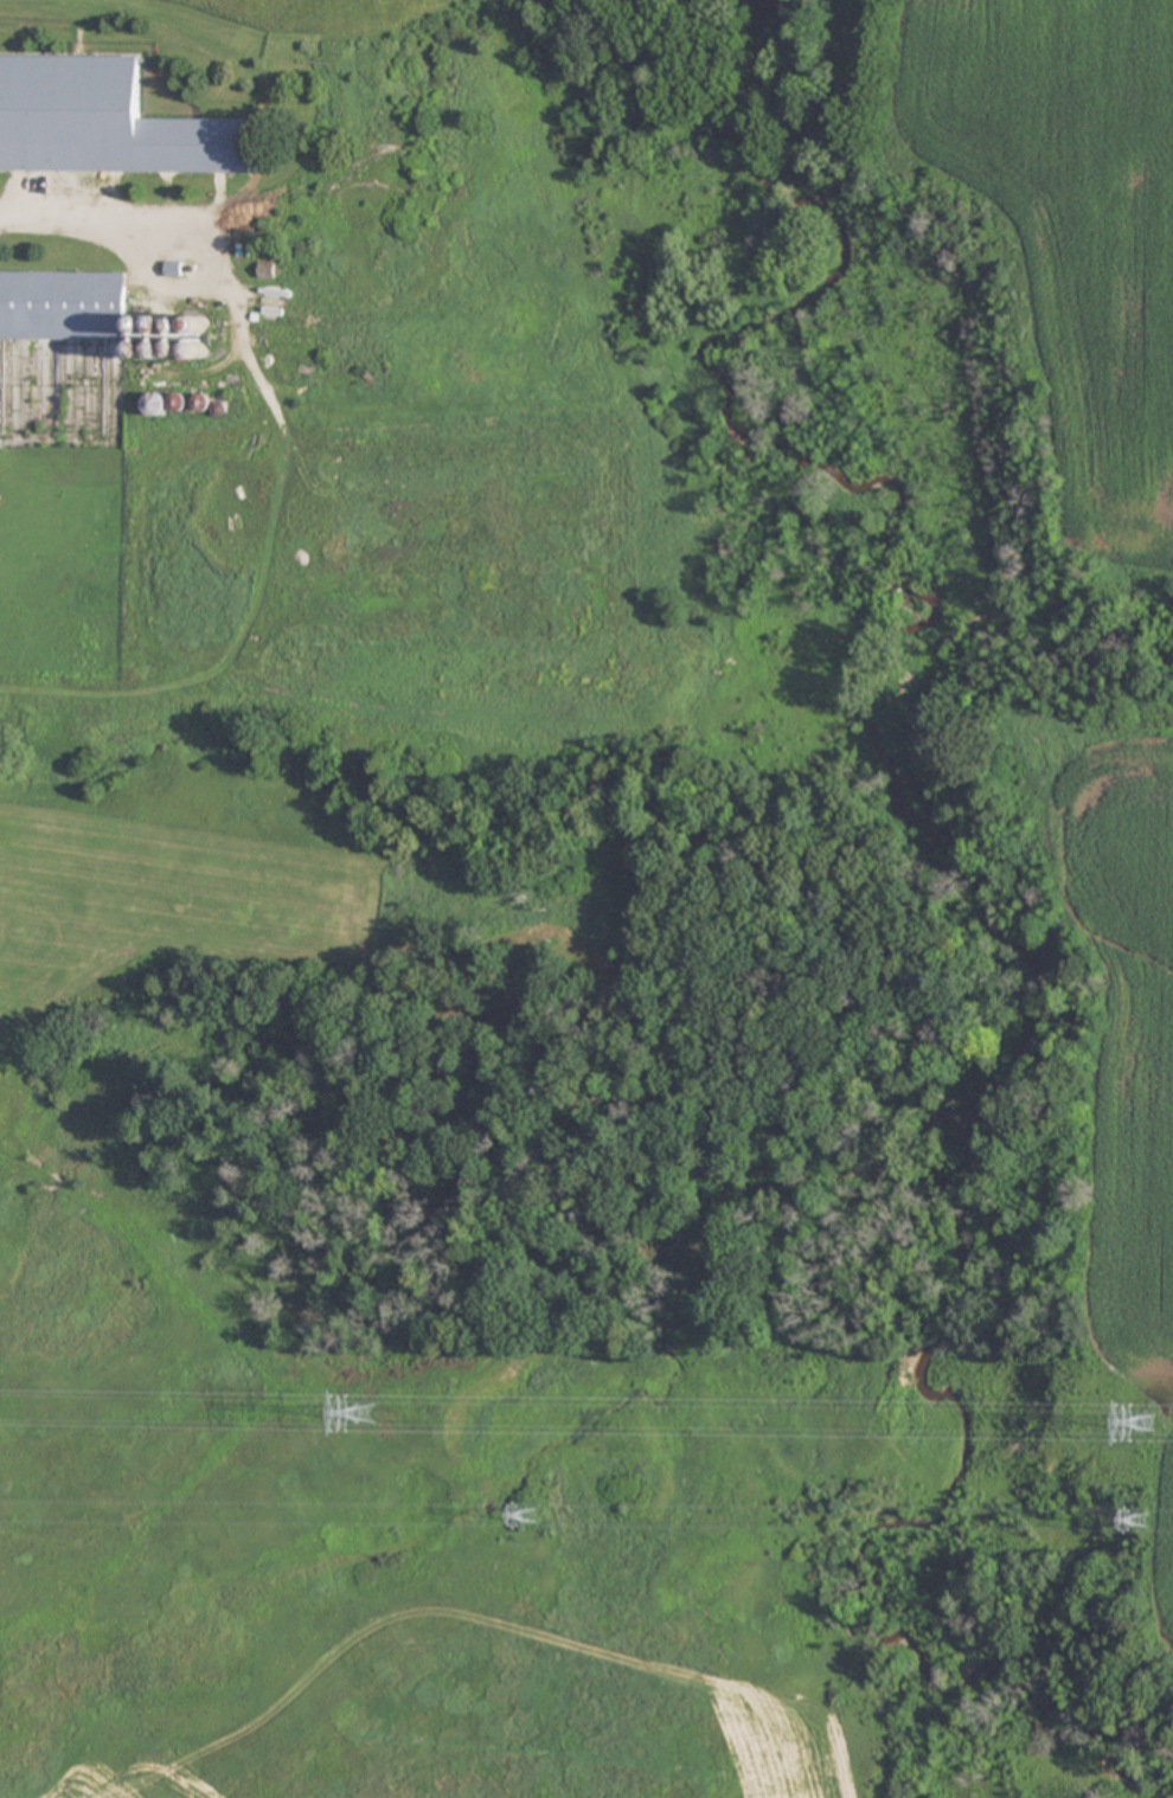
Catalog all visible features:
building: (103, 121)
road: (100, 223)
crop: (1075, 236)
building: (63, 306)
crop: (358, 927)
crop: (1134, 1098)
power tower: (367, 1412)
power tower: (1147, 1423)
power tower: (534, 1514)
power tower: (1145, 1520)

